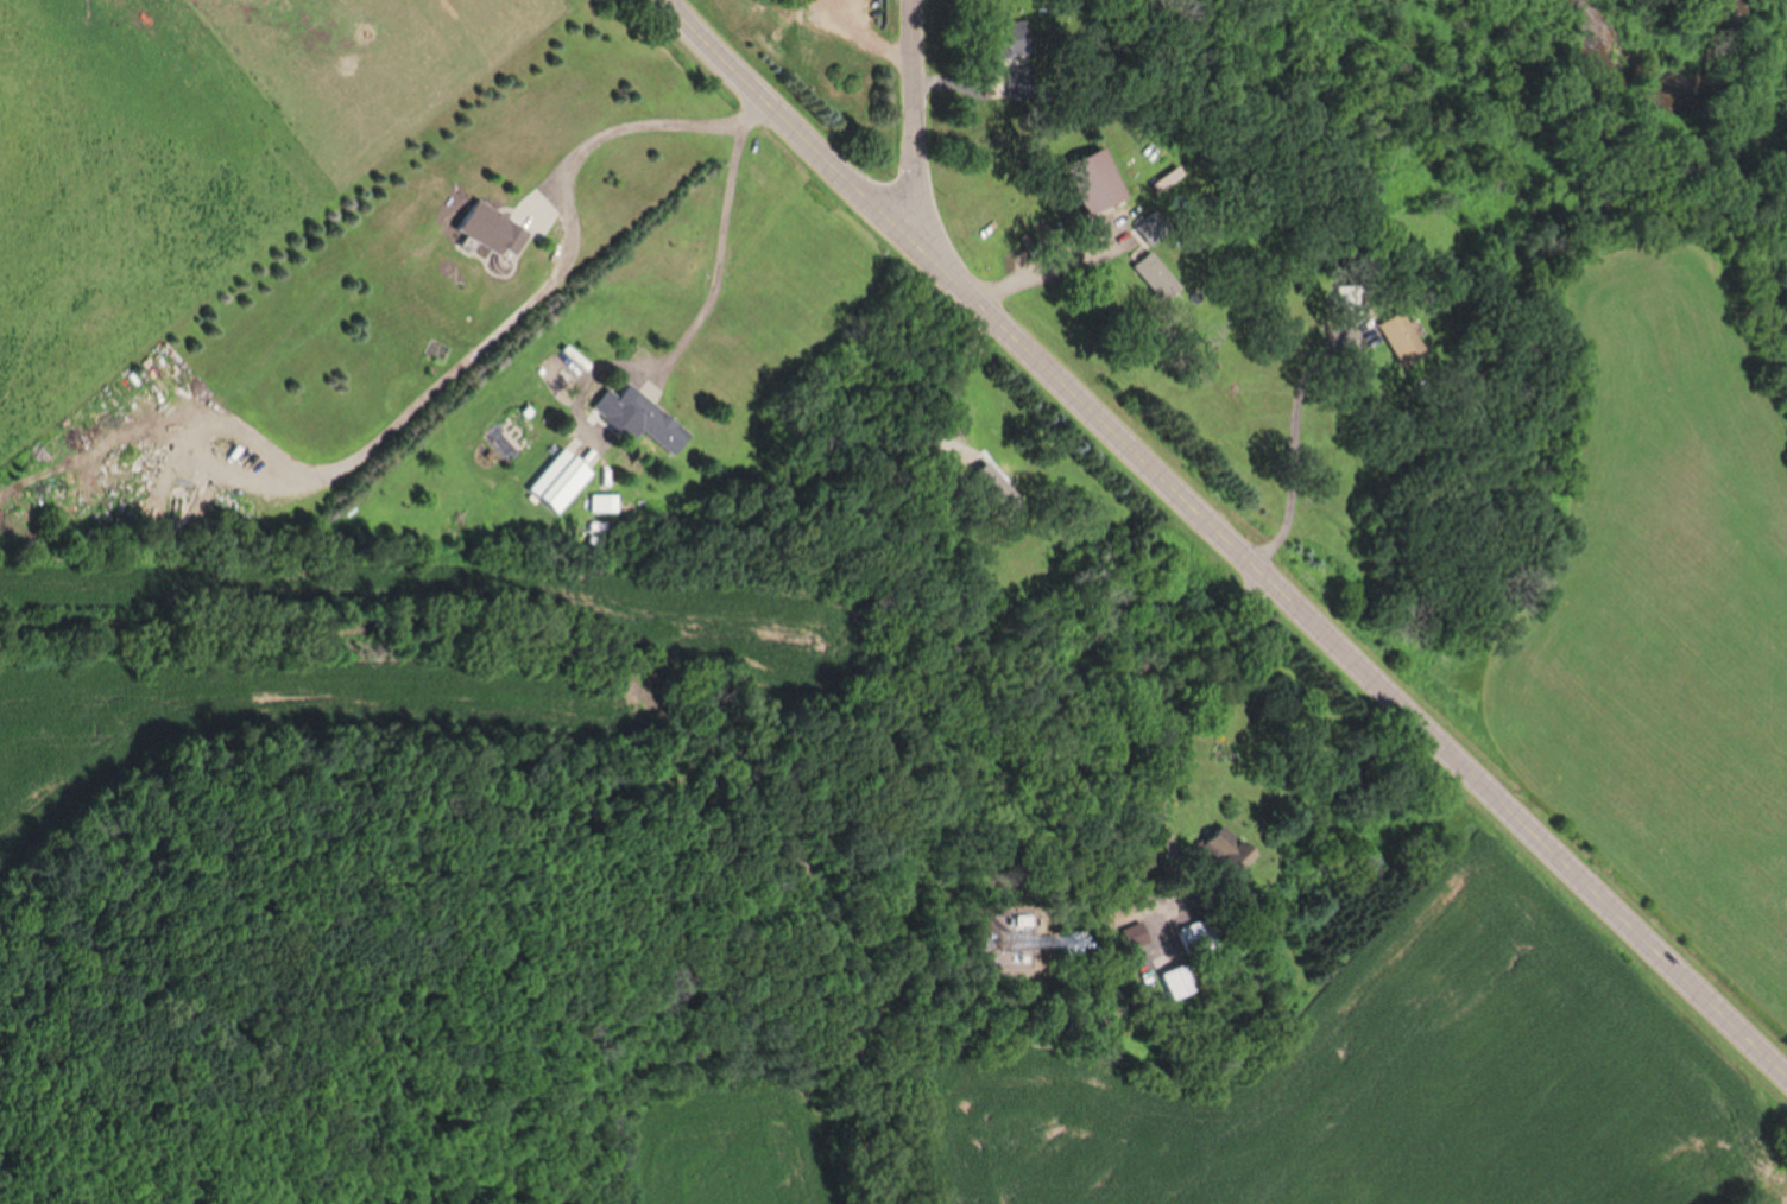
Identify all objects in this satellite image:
building: (994, 46)
road: (914, 123)
road: (632, 125)
building: (1082, 184)
building: (486, 229)
building: (1143, 230)
road: (716, 240)
building: (1147, 278)
building: (1339, 304)
building: (1387, 341)
building: (653, 423)
building: (560, 482)
building: (992, 488)
road: (1225, 539)
building: (1230, 860)
building: (1134, 937)
building: (1194, 937)
building: (1175, 981)
road: (1782, 1199)

